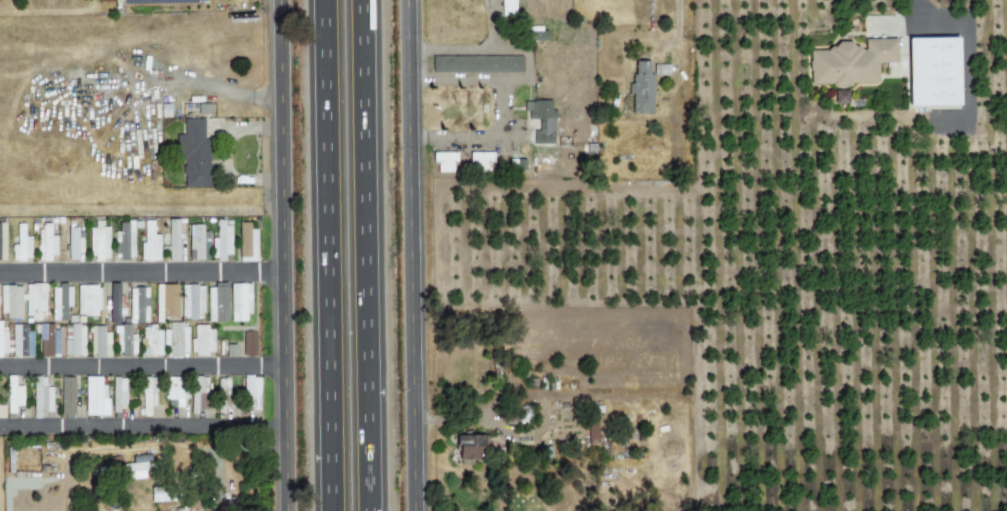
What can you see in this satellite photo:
building: (105, 0)
building: (507, 7)
road: (967, 31)
building: (537, 35)
road: (471, 51)
building: (849, 62)
building: (476, 64)
building: (661, 69)
building: (932, 71)
building: (641, 88)
building: (840, 96)
road: (498, 107)
building: (541, 120)
building: (193, 154)
building: (444, 161)
building: (479, 161)
building: (2, 240)
building: (124, 240)
building: (172, 240)
building: (98, 241)
building: (195, 241)
building: (220, 241)
building: (45, 242)
building: (246, 242)
building: (73, 243)
building: (149, 243)
building: (21, 244)
road: (286, 255)
road: (329, 255)
road: (367, 255)
road: (411, 255)
road: (143, 273)
building: (34, 300)
building: (88, 300)
building: (60, 301)
building: (165, 301)
building: (191, 301)
building: (11, 302)
building: (239, 302)
building: (114, 303)
building: (138, 305)
building: (74, 339)
building: (176, 339)
building: (96, 340)
building: (151, 340)
building: (202, 340)
building: (21, 341)
building: (125, 341)
building: (3, 342)
building: (249, 343)
building: (107, 344)
road: (144, 366)
building: (173, 391)
building: (251, 392)
building: (118, 393)
building: (13, 394)
building: (147, 394)
building: (67, 395)
building: (95, 396)
building: (41, 398)
building: (2, 411)
road: (144, 425)
building: (592, 428)
building: (470, 447)
building: (135, 470)
building: (162, 494)

